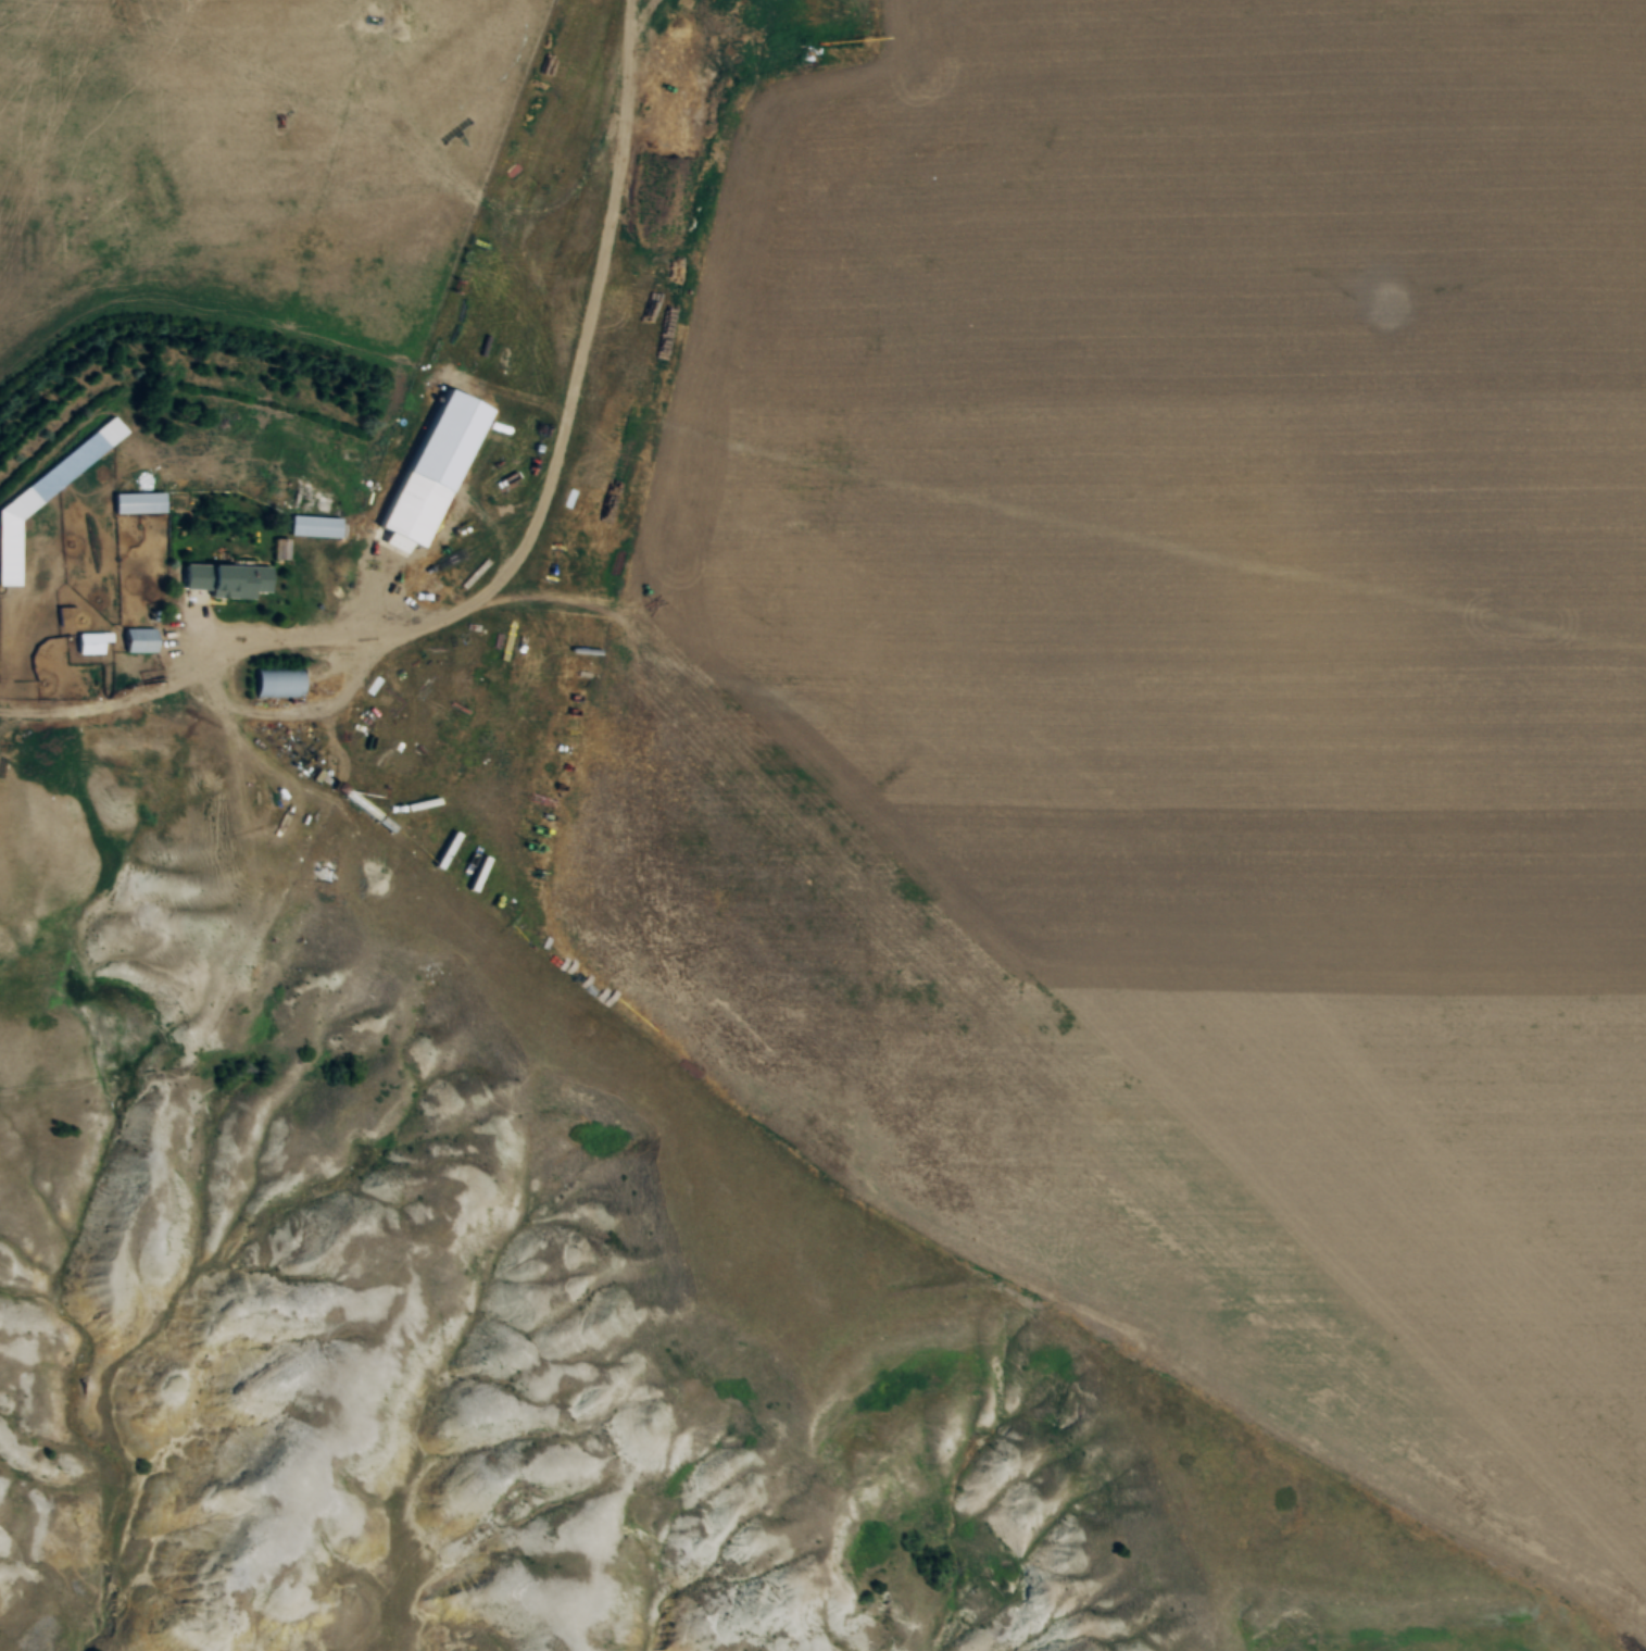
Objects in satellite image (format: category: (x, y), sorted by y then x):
road: (557, 449)
building: (133, 503)
building: (139, 514)
building: (414, 518)
building: (310, 527)
building: (315, 537)
building: (276, 550)
building: (282, 562)
building: (228, 589)
building: (133, 641)
building: (85, 643)
building: (140, 652)
building: (91, 654)
building: (277, 693)
crop: (1182, 711)

